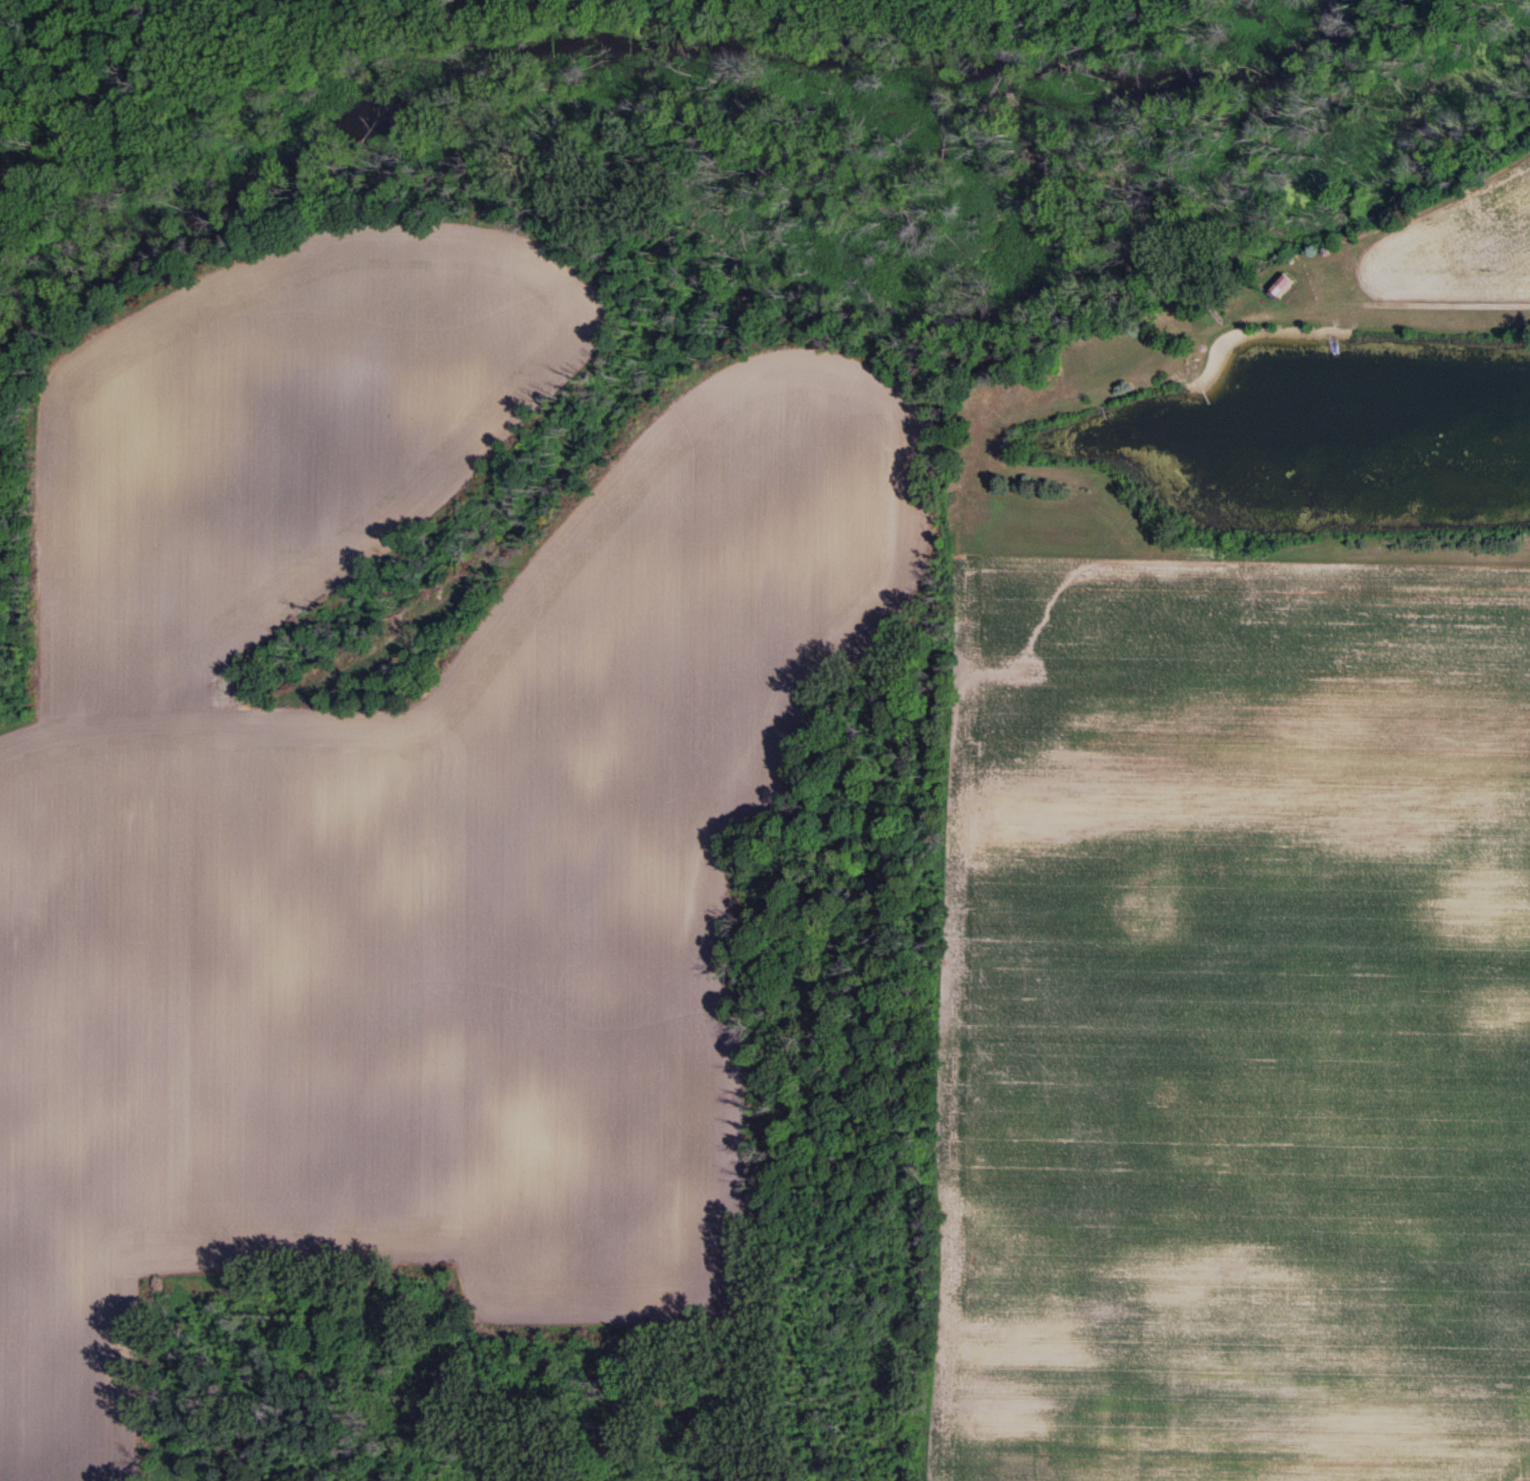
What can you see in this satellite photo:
river: (680, 99)
building: (1281, 286)

